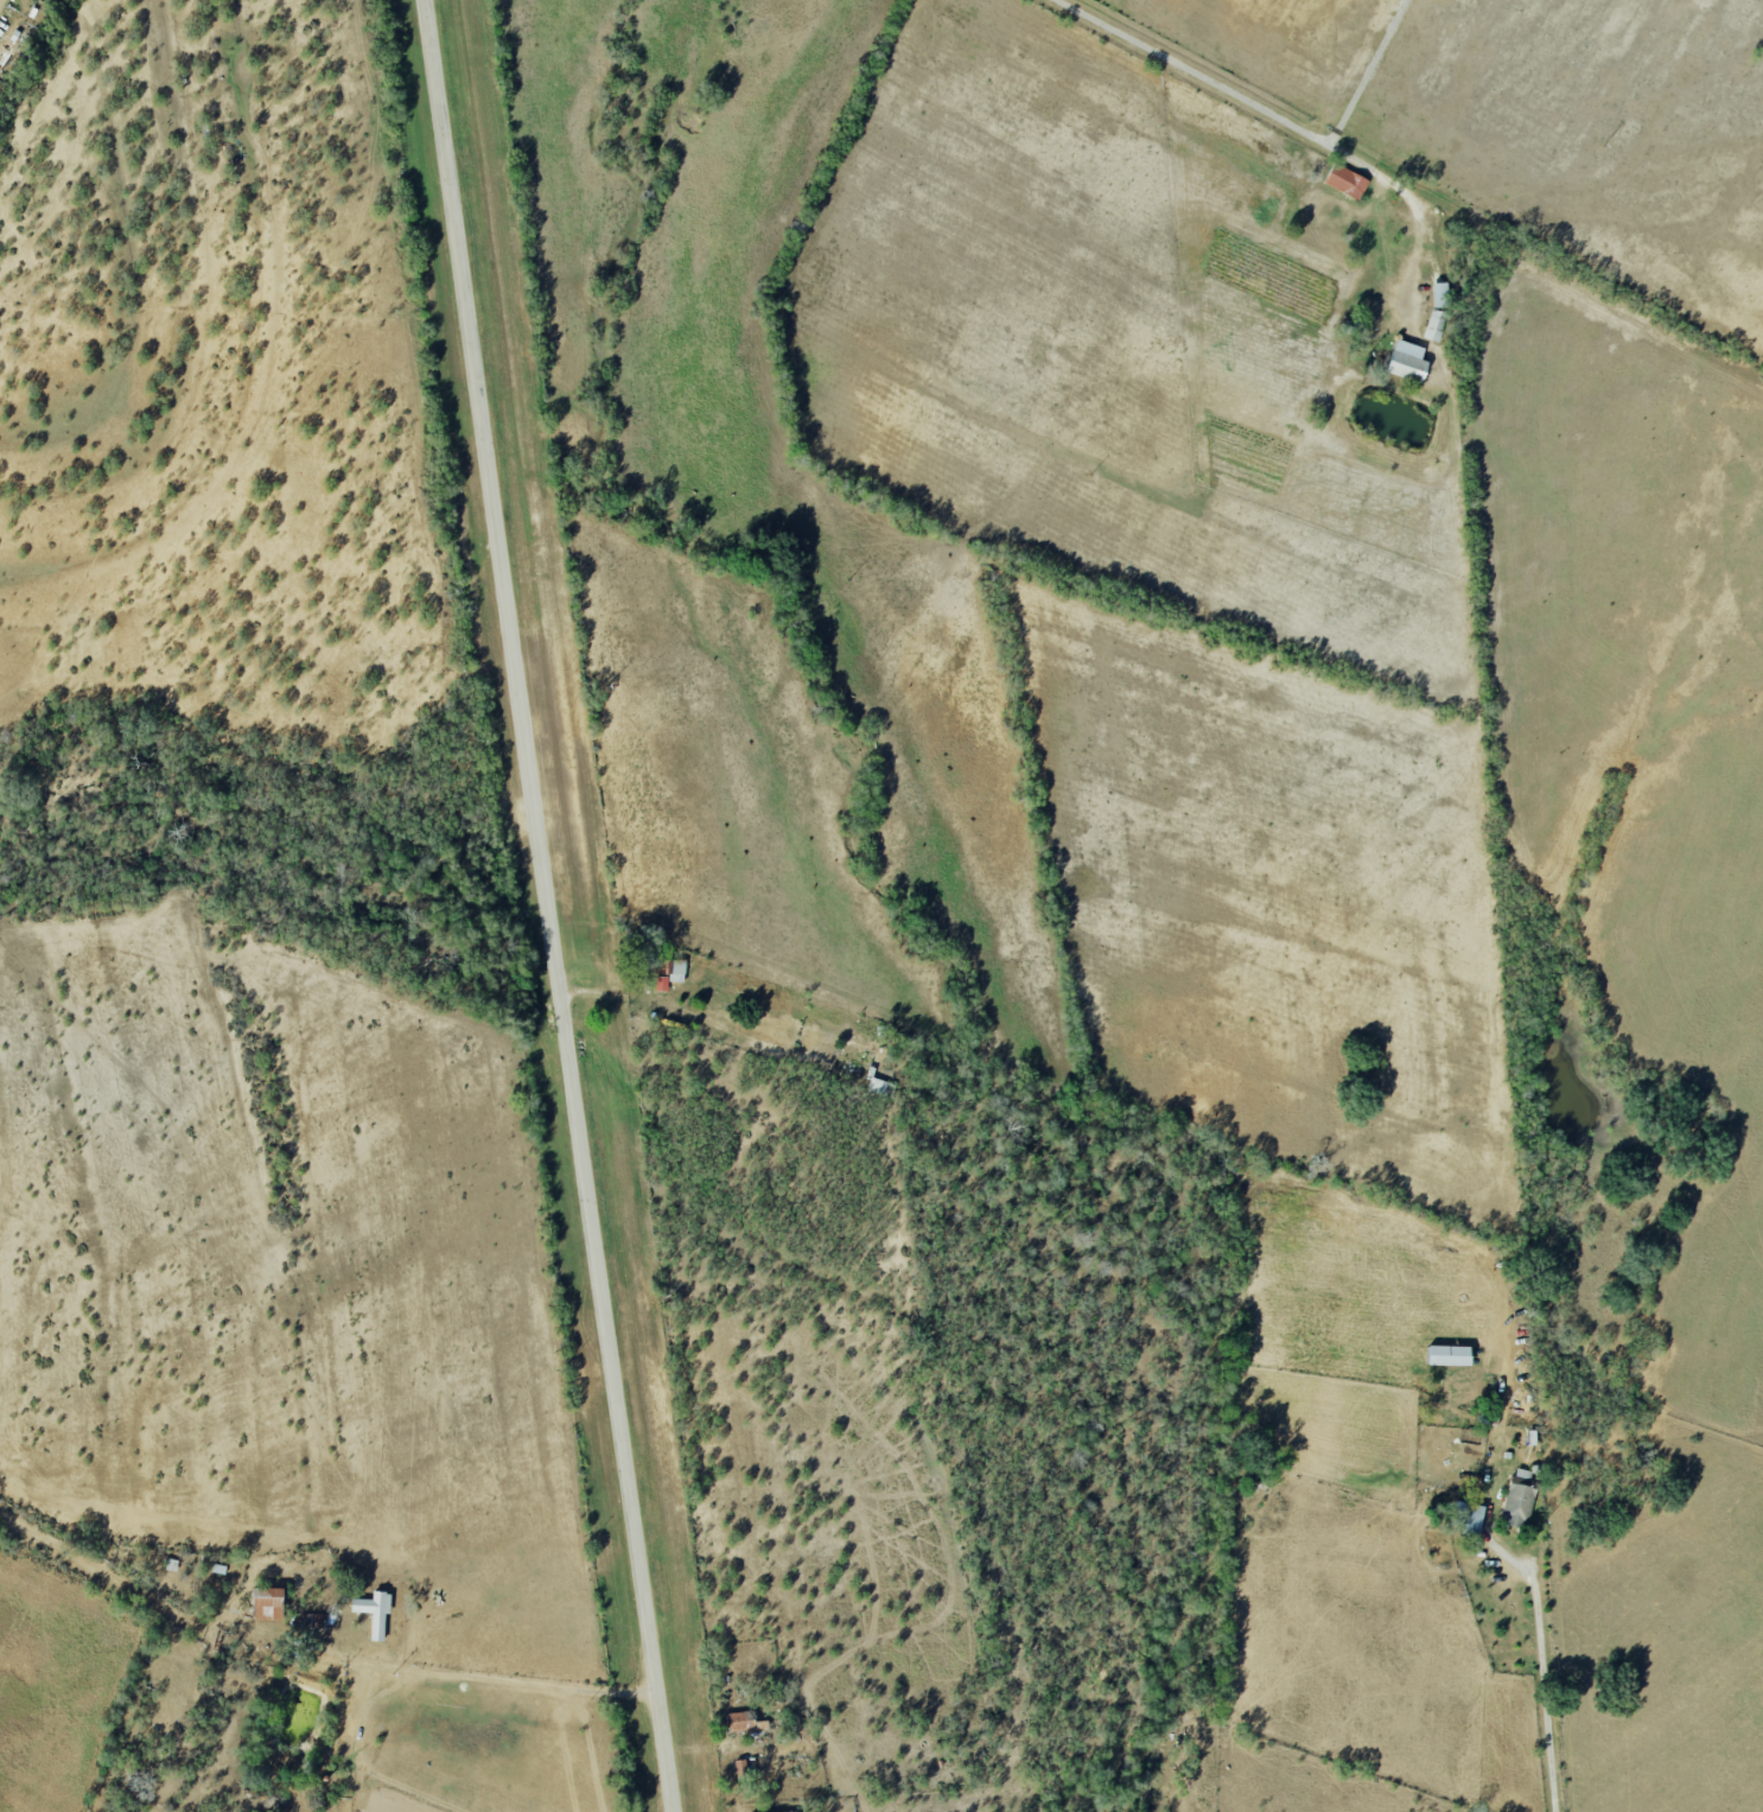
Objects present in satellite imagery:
road: (1370, 68)
road: (1222, 82)
building: (1347, 182)
building: (1440, 295)
building: (1436, 326)
building: (1407, 362)
road: (548, 905)
building: (669, 973)
road: (623, 998)
building: (1449, 1355)
building: (1519, 1498)
building: (1469, 1517)
building: (267, 1603)
building: (374, 1611)
road: (488, 1677)
road: (1549, 1699)
building: (745, 1723)
road: (358, 1725)

